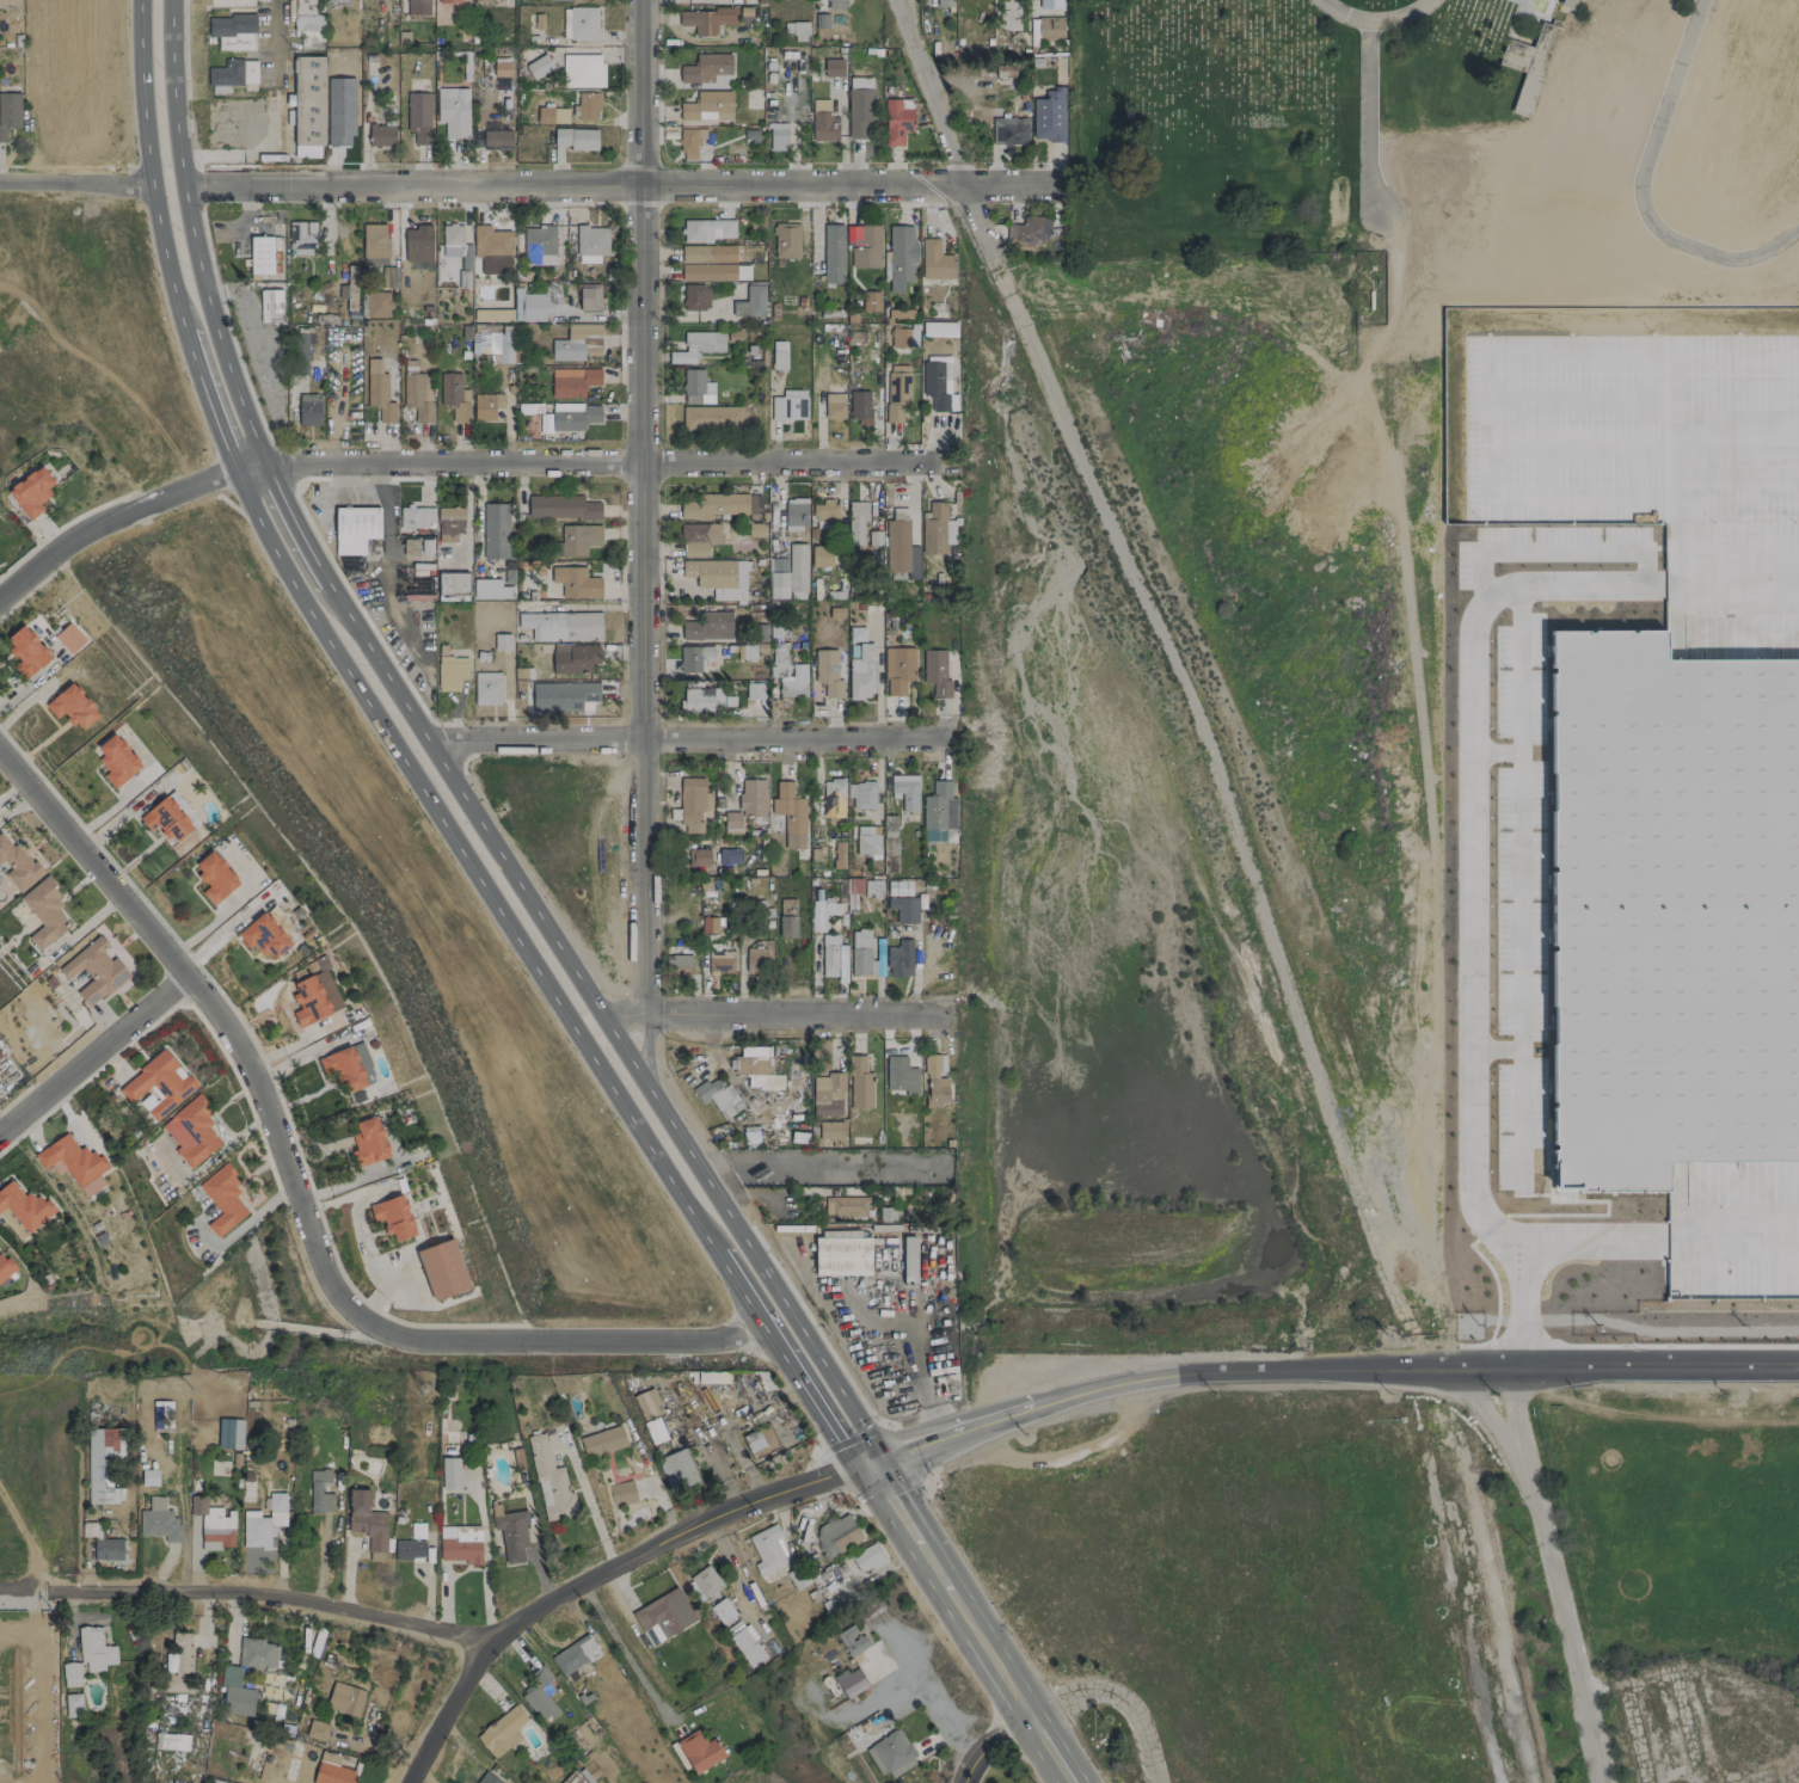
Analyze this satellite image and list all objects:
building: (552, 0)
building: (334, 1)
building: (448, 1)
building: (480, 1)
building: (755, 1)
building: (10, 2)
building: (944, 2)
building: (835, 4)
building: (1050, 4)
building: (1570, 4)
building: (417, 7)
building: (306, 16)
building: (705, 19)
road: (1374, 19)
building: (579, 23)
building: (231, 24)
building: (1049, 27)
building: (796, 30)
building: (239, 43)
building: (538, 66)
building: (501, 67)
building: (833, 67)
building: (582, 70)
building: (708, 70)
building: (233, 73)
building: (1005, 74)
building: (308, 106)
building: (588, 106)
building: (707, 106)
building: (859, 106)
building: (8, 112)
building: (453, 112)
building: (545, 115)
road: (272, 116)
building: (418, 116)
building: (1048, 116)
building: (897, 119)
building: (823, 122)
building: (238, 127)
building: (1008, 130)
building: (380, 135)
building: (776, 136)
building: (496, 137)
building: (576, 139)
building: (689, 142)
park: (1447, 145)
road: (148, 161)
road: (529, 185)
road: (1640, 191)
building: (707, 230)
building: (1026, 233)
road: (192, 234)
building: (452, 234)
building: (300, 238)
building: (417, 238)
building: (786, 240)
building: (490, 242)
building: (374, 244)
building: (590, 244)
building: (539, 245)
building: (866, 247)
building: (833, 253)
building: (260, 254)
building: (466, 257)
building: (898, 257)
building: (935, 260)
building: (711, 264)
building: (349, 290)
building: (589, 296)
building: (695, 297)
building: (750, 301)
building: (870, 301)
building: (270, 305)
building: (377, 305)
building: (528, 306)
building: (492, 314)
building: (903, 337)
building: (577, 342)
building: (504, 344)
building: (698, 346)
building: (778, 359)
building: (572, 381)
building: (938, 383)
building: (696, 387)
building: (379, 392)
building: (417, 392)
building: (896, 392)
road: (207, 396)
building: (454, 396)
building: (486, 405)
building: (788, 405)
building: (834, 406)
building: (859, 406)
building: (308, 410)
building: (569, 417)
building: (711, 418)
road: (608, 467)
building: (31, 491)
building: (713, 505)
building: (561, 506)
road: (640, 506)
building: (794, 514)
road: (123, 516)
building: (825, 516)
building: (416, 517)
building: (855, 522)
road: (291, 523)
building: (449, 523)
building: (355, 529)
building: (935, 529)
building: (495, 530)
building: (698, 537)
building: (578, 539)
building: (899, 551)
building: (821, 557)
building: (788, 574)
building: (718, 577)
building: (576, 582)
building: (453, 586)
building: (490, 589)
building: (561, 625)
building: (708, 626)
building: (856, 633)
building: (69, 638)
building: (502, 641)
building: (26, 651)
building: (745, 651)
building: (573, 658)
building: (693, 658)
building: (898, 669)
building: (450, 672)
building: (827, 672)
building: (935, 672)
building: (861, 674)
building: (792, 680)
road: (1178, 680)
building: (486, 688)
building: (753, 690)
building: (571, 695)
building: (701, 699)
building: (72, 706)
road: (688, 739)
building: (116, 760)
building: (905, 791)
building: (833, 792)
building: (861, 794)
building: (751, 798)
building: (693, 804)
building: (938, 811)
building: (788, 814)
building: (167, 819)
building: (731, 820)
building: (866, 841)
road: (459, 848)
building: (725, 855)
building: (839, 855)
building: (698, 857)
road: (90, 861)
building: (16, 862)
building: (215, 875)
building: (898, 887)
building: (1676, 904)
building: (787, 906)
building: (903, 909)
building: (822, 911)
building: (44, 912)
building: (708, 924)
building: (786, 927)
building: (264, 935)
building: (861, 953)
road: (1472, 955)
building: (833, 958)
building: (899, 959)
building: (720, 961)
building: (755, 961)
building: (879, 961)
building: (679, 965)
building: (94, 970)
building: (314, 997)
road: (775, 1015)
road: (603, 1019)
road: (92, 1053)
building: (0, 1059)
building: (754, 1063)
building: (343, 1068)
building: (899, 1076)
building: (934, 1080)
building: (158, 1083)
building: (860, 1083)
building: (827, 1095)
building: (718, 1096)
building: (830, 1130)
building: (191, 1131)
building: (368, 1142)
building: (70, 1160)
building: (222, 1199)
building: (24, 1206)
building: (845, 1206)
building: (886, 1213)
building: (393, 1217)
road: (1603, 1249)
building: (841, 1255)
building: (909, 1260)
building: (4, 1268)
building: (442, 1269)
road: (367, 1323)
road: (775, 1342)
road: (1325, 1371)
building: (647, 1403)
building: (160, 1413)
building: (655, 1430)
building: (229, 1433)
building: (602, 1441)
building: (760, 1441)
traffic signals: (864, 1461)
building: (103, 1463)
building: (676, 1470)
building: (449, 1472)
building: (549, 1482)
building: (319, 1492)
building: (621, 1493)
road: (587, 1500)
building: (159, 1520)
building: (213, 1521)
building: (263, 1521)
building: (367, 1523)
building: (511, 1535)
building: (835, 1535)
road: (913, 1536)
building: (460, 1543)
building: (109, 1549)
building: (766, 1549)
building: (407, 1550)
building: (866, 1557)
road: (1552, 1575)
road: (598, 1578)
building: (705, 1581)
road: (247, 1594)
building: (722, 1611)
railway: (1508, 1613)
building: (663, 1616)
building: (851, 1640)
building: (747, 1646)
building: (94, 1649)
building: (180, 1654)
building: (257, 1654)
road: (625, 1654)
building: (573, 1655)
road: (995, 1666)
building: (70, 1674)
building: (851, 1681)
road: (913, 1681)
building: (235, 1692)
building: (539, 1693)
road: (1123, 1693)
building: (344, 1698)
building: (73, 1704)
building: (317, 1730)
building: (502, 1730)
building: (171, 1741)
road: (989, 1744)
building: (699, 1751)
road: (1048, 1751)
building: (890, 1753)
building: (330, 1770)
building: (487, 1778)
building: (219, 1782)

